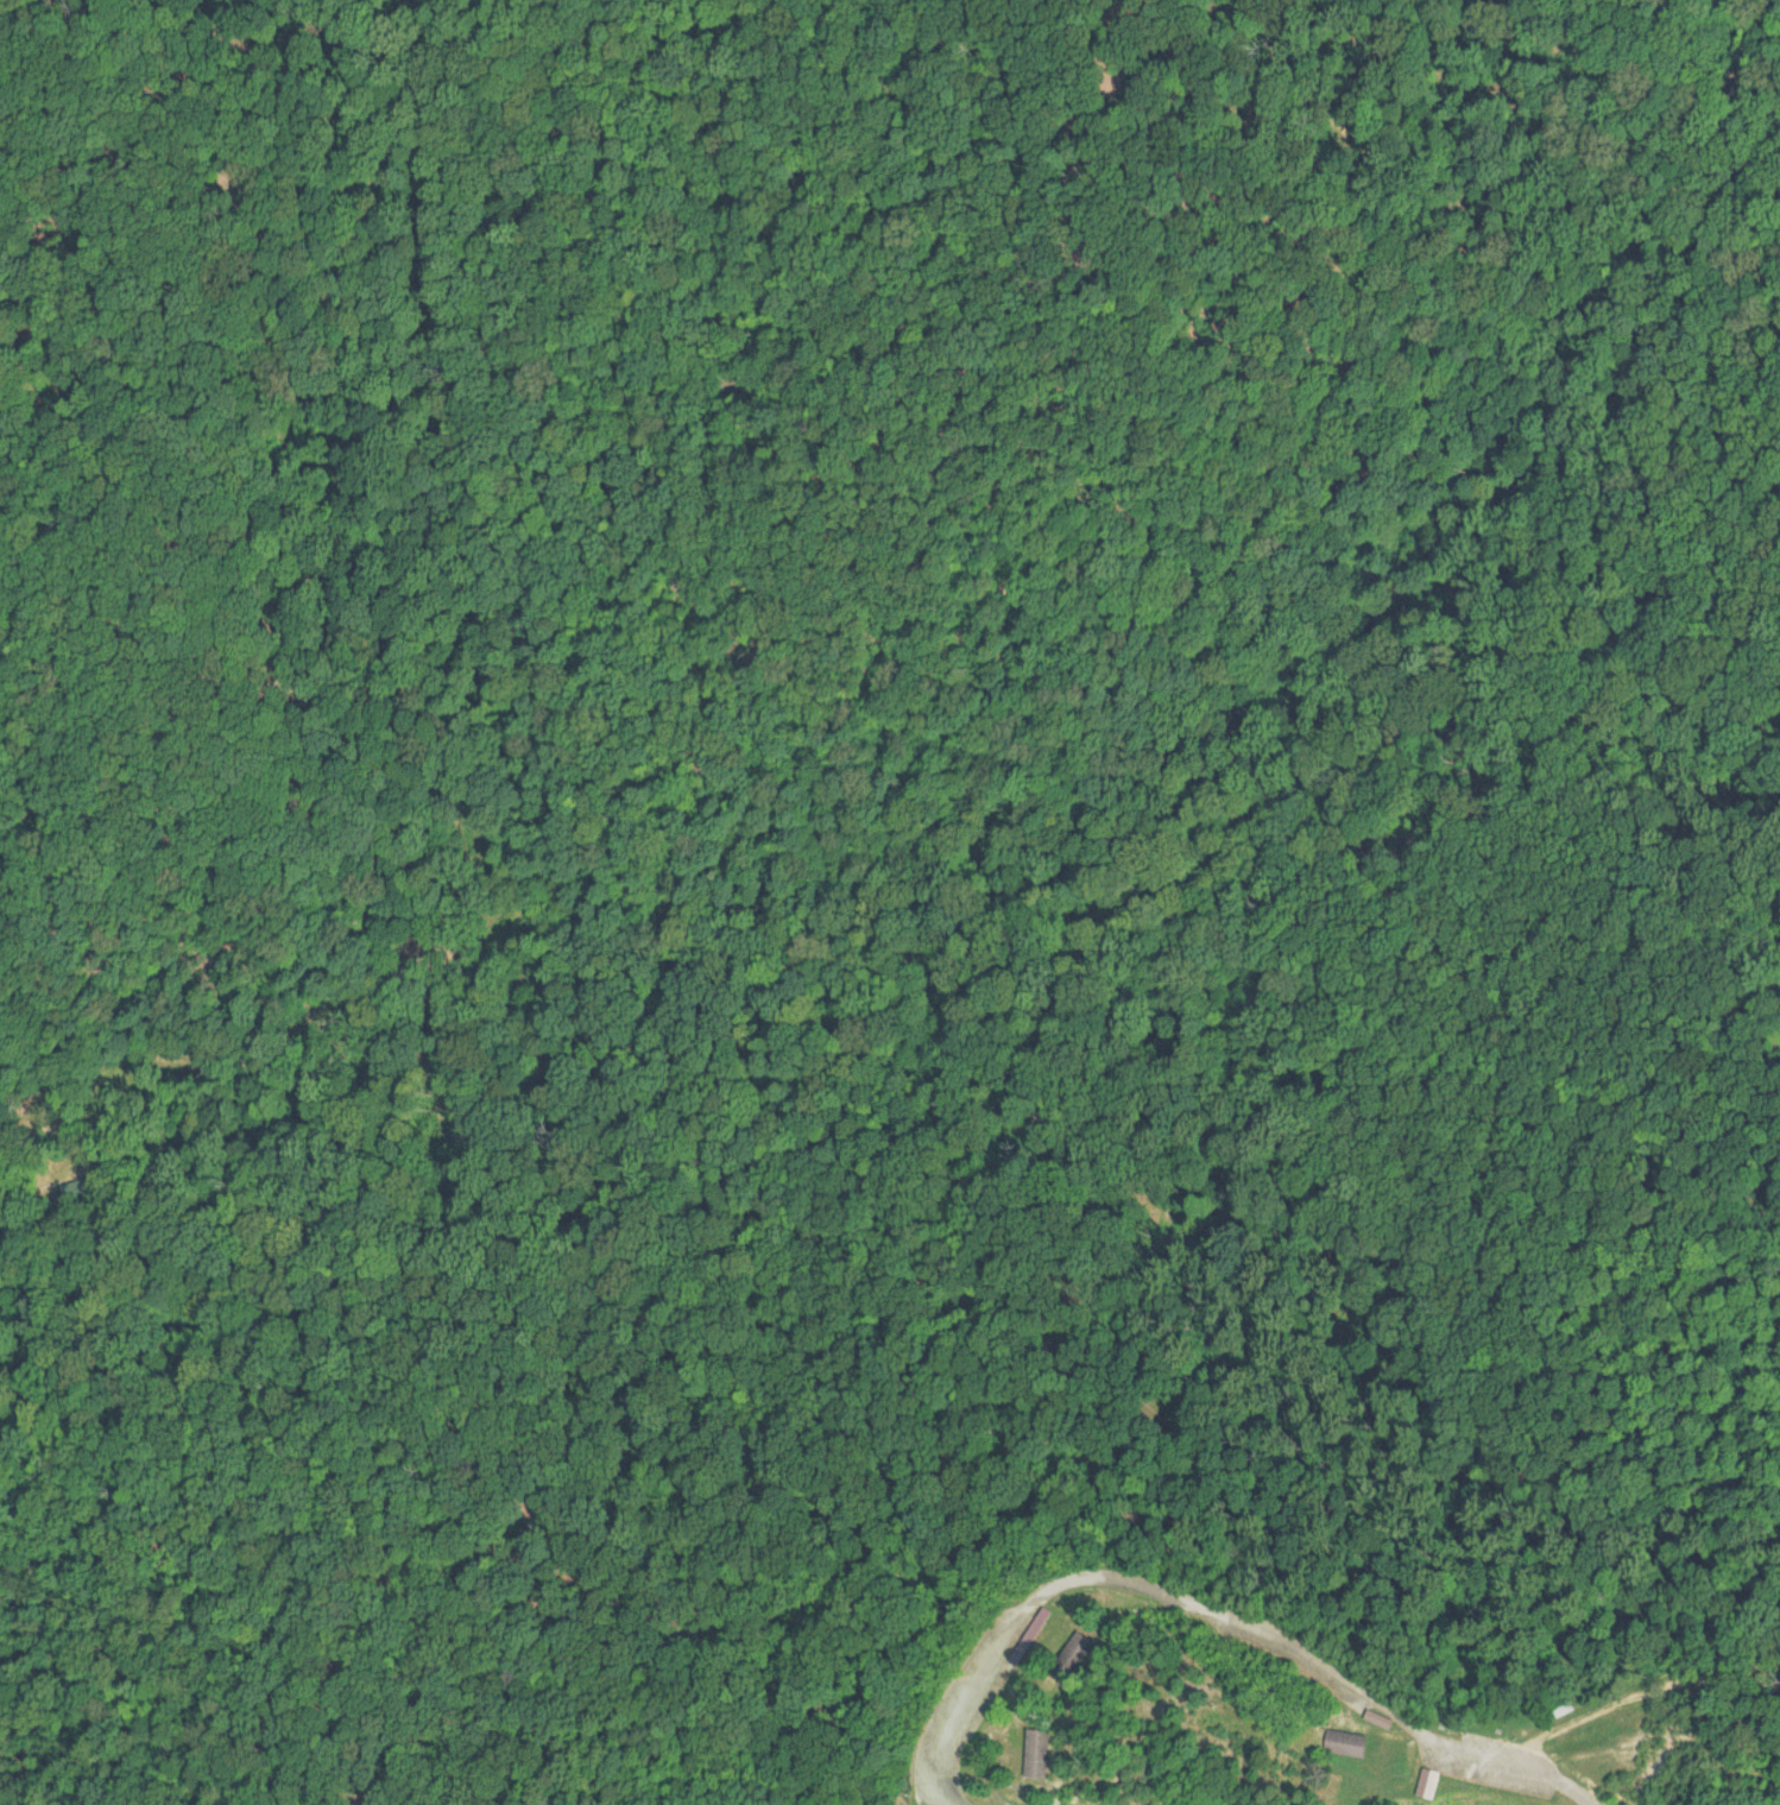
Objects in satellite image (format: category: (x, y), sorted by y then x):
road: (1612, 152)
road: (1680, 444)
road: (585, 497)
road: (1124, 789)
road: (242, 1061)
road: (1323, 1531)
road: (1214, 1602)
building: (1073, 1656)
building: (1560, 1708)
building: (1347, 1742)
building: (1037, 1752)
building: (1429, 1781)

